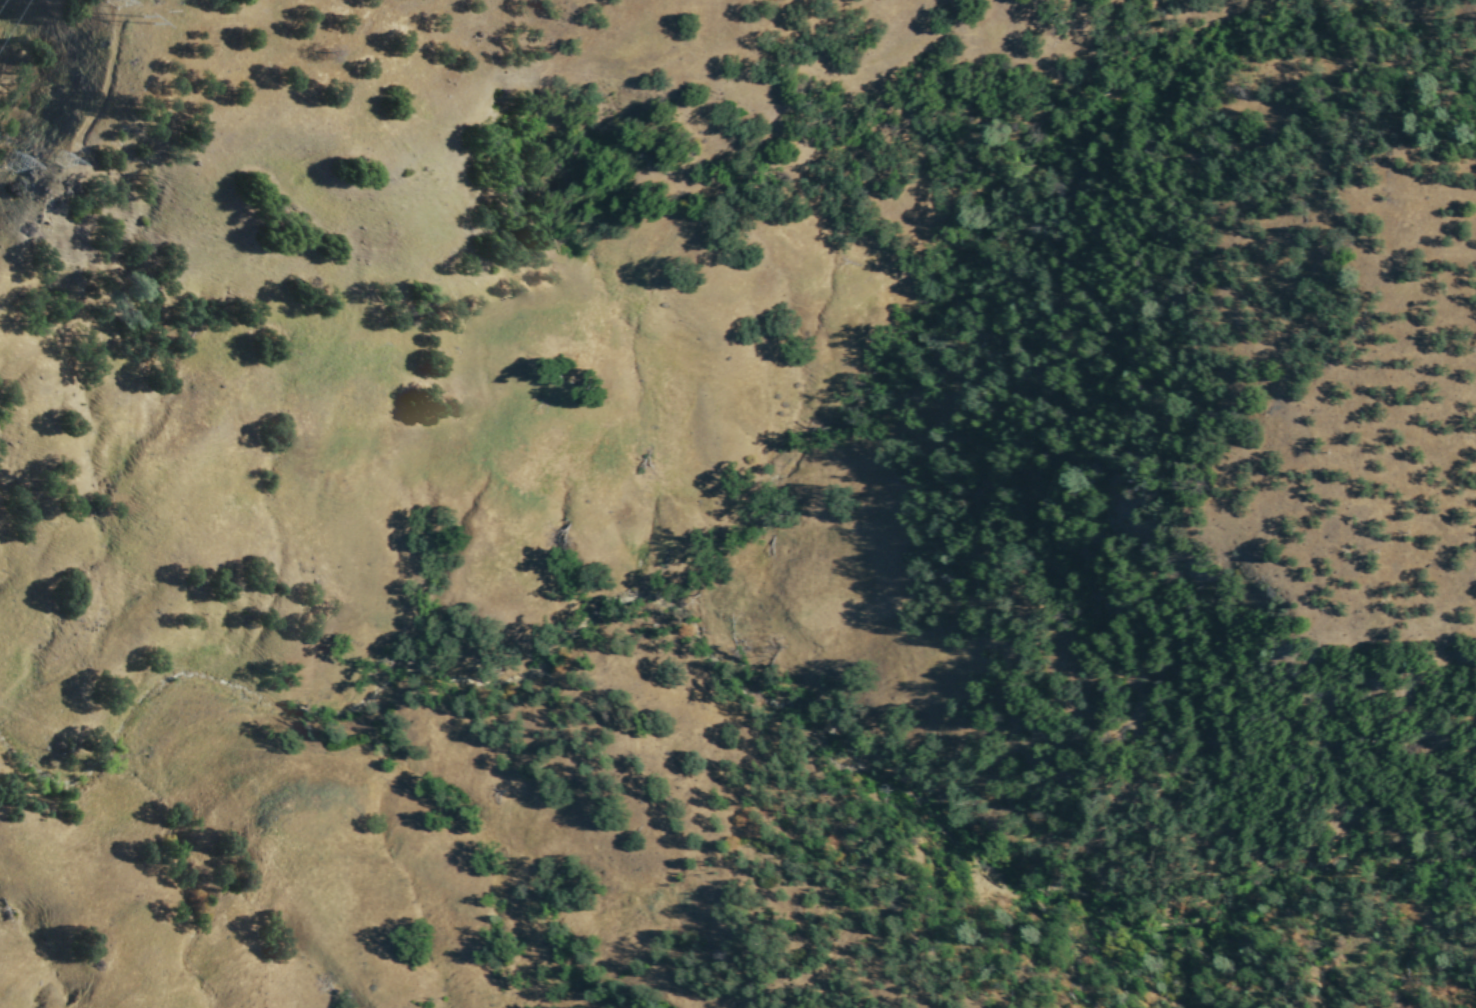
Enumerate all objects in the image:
power tower: (119, 3)
power tower: (150, 20)
power tower: (10, 168)
power tower: (61, 170)

